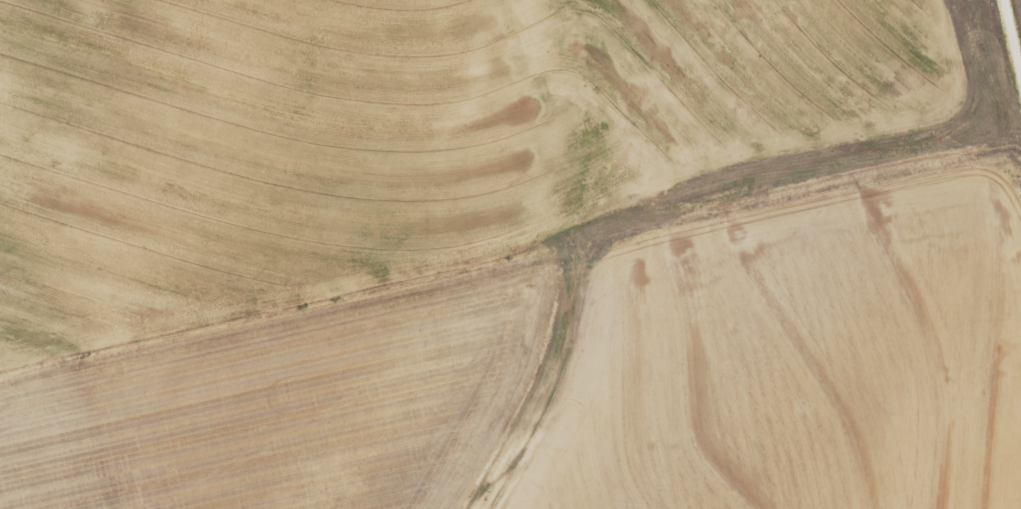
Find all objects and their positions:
road: (1012, 36)

